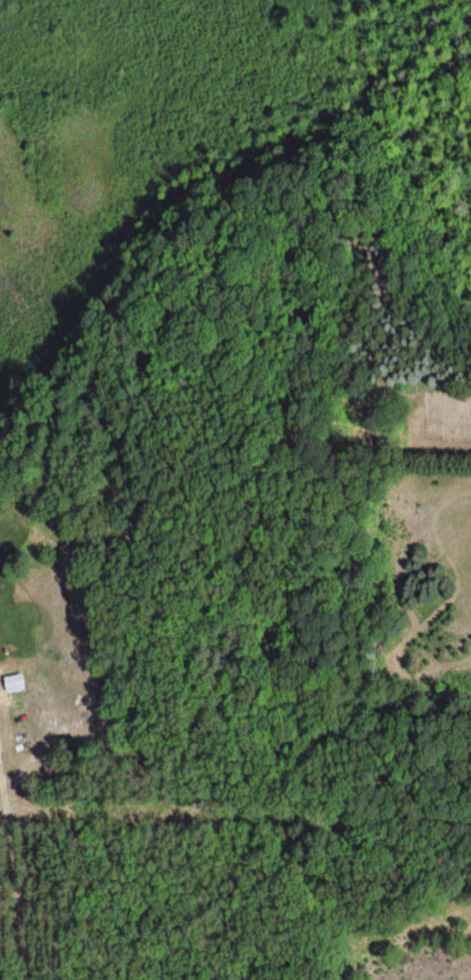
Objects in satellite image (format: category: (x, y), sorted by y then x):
building: (14, 683)
road: (1, 765)
road: (17, 864)

